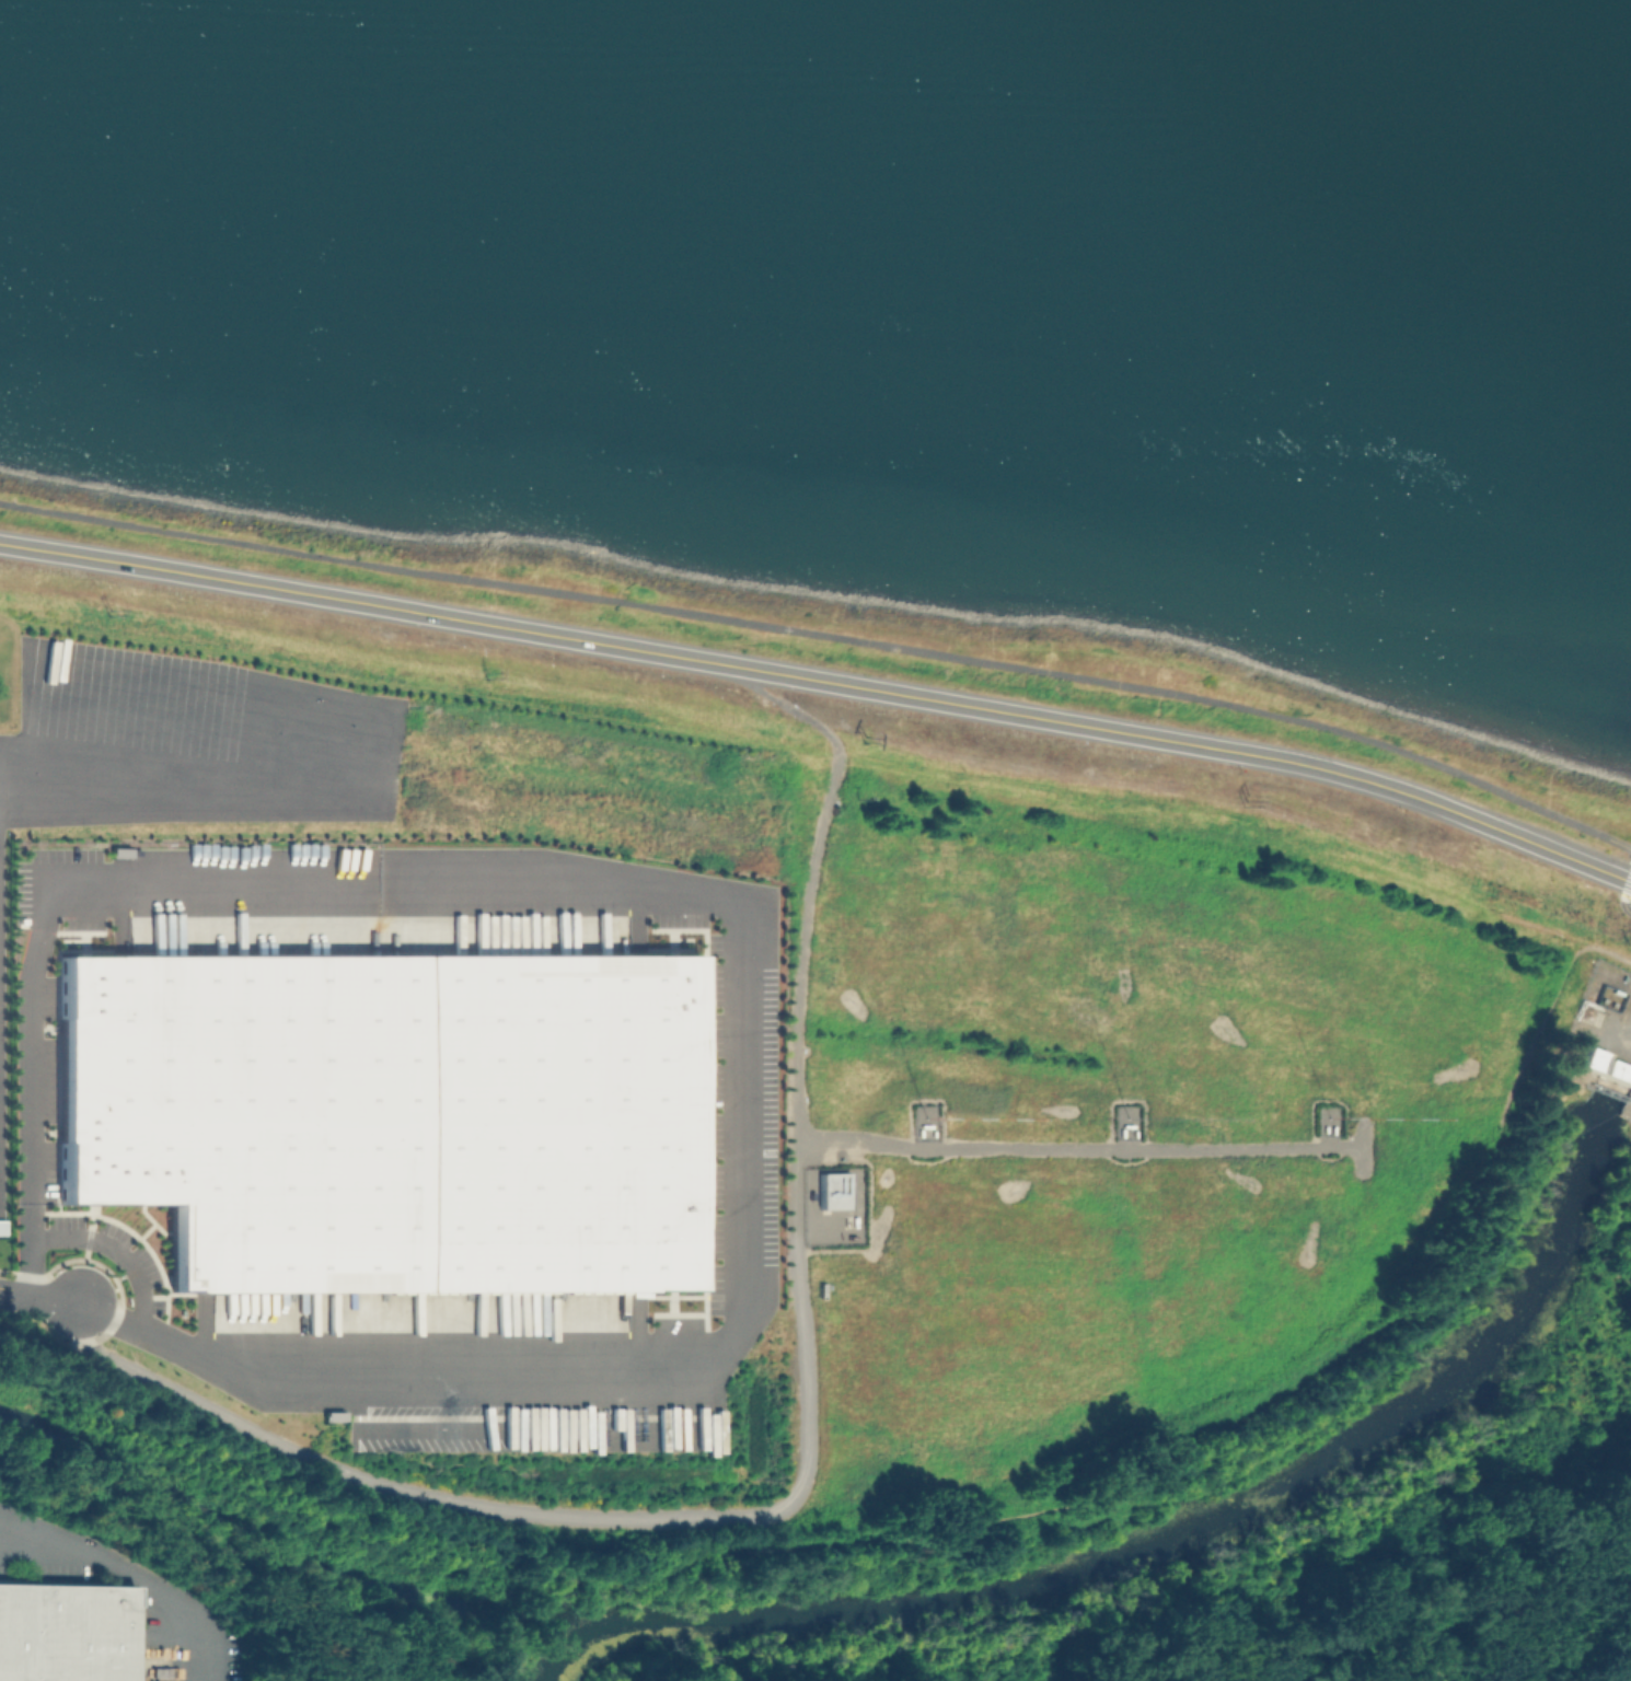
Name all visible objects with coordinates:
road: (826, 634)
road: (823, 682)
road: (190, 772)
road: (1624, 897)
road: (742, 909)
building: (1604, 1066)
building: (386, 1132)
road: (1079, 1148)
building: (833, 1192)
road: (117, 1249)
road: (39, 1298)
road: (807, 1445)
road: (1153, 1460)
road: (54, 1556)
road: (129, 1569)
building: (67, 1633)

